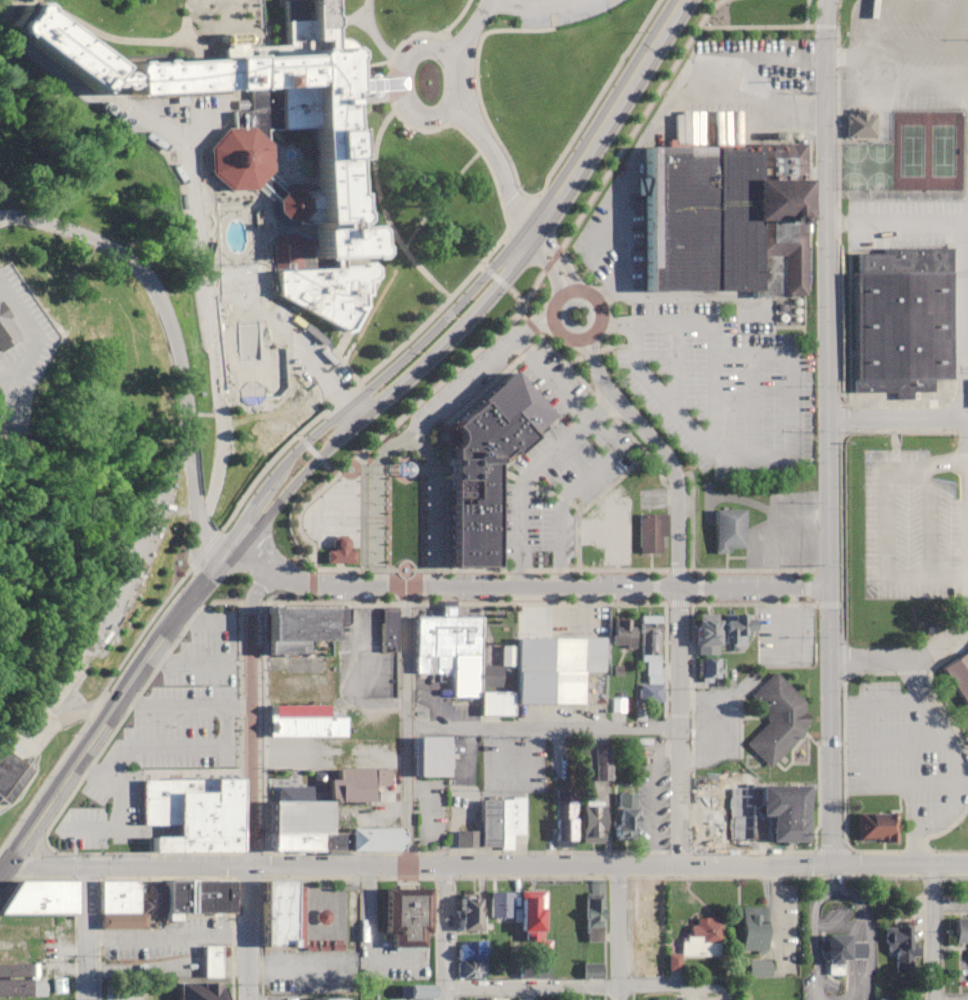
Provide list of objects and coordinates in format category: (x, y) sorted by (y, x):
road: (506, 2)
road: (526, 2)
road: (547, 3)
road: (829, 4)
parking lot: (550, 10)
road: (805, 11)
road: (762, 24)
road: (466, 44)
road: (456, 46)
road: (404, 85)
road: (476, 85)
road: (625, 90)
road: (759, 101)
road: (464, 107)
road: (404, 121)
road: (656, 123)
building: (863, 124)
park: (926, 150)
road: (620, 151)
road: (497, 161)
park: (864, 166)
building: (342, 176)
road: (437, 196)
road: (551, 206)
road: (382, 210)
road: (8, 215)
building: (705, 218)
road: (551, 260)
road: (131, 262)
road: (454, 290)
road: (562, 292)
building: (26, 298)
building: (904, 318)
road: (453, 332)
parking lot: (290, 347)
road: (308, 355)
road: (406, 357)
road: (900, 417)
road: (795, 422)
road: (346, 431)
road: (380, 434)
power tower: (958, 434)
road: (829, 435)
power tower: (850, 438)
road: (664, 451)
building: (489, 465)
fountain: (402, 468)
road: (193, 479)
road: (286, 490)
road: (252, 504)
building: (341, 527)
building: (729, 530)
building: (611, 531)
building: (652, 533)
road: (225, 551)
road: (253, 551)
road: (285, 577)
road: (116, 588)
road: (566, 590)
parking lot: (102, 615)
building: (300, 629)
building: (735, 630)
road: (954, 630)
building: (623, 633)
building: (709, 636)
road: (884, 656)
building: (651, 660)
building: (460, 662)
building: (205, 666)
building: (556, 669)
building: (710, 669)
building: (955, 680)
road: (122, 687)
road: (248, 713)
building: (779, 720)
road: (406, 727)
road: (542, 727)
road: (676, 727)
building: (300, 735)
building: (433, 757)
road: (959, 759)
building: (602, 772)
building: (12, 777)
building: (966, 778)
building: (788, 812)
building: (195, 815)
building: (300, 816)
building: (566, 818)
building: (594, 822)
building: (495, 825)
building: (627, 825)
building: (876, 827)
building: (729, 834)
road: (20, 838)
road: (40, 840)
road: (529, 864)
road: (28, 866)
road: (71, 866)
road: (2, 869)
building: (45, 898)
building: (160, 902)
building: (502, 907)
building: (533, 912)
building: (472, 913)
building: (281, 915)
building: (572, 915)
building: (594, 917)
building: (410, 918)
building: (650, 924)
building: (754, 929)
road: (934, 931)
building: (962, 931)
road: (90, 932)
road: (248, 932)
road: (443, 932)
road: (618, 932)
building: (702, 938)
building: (899, 947)
building: (843, 952)
building: (472, 959)
building: (212, 961)
building: (760, 968)
building: (563, 969)
building: (19, 981)
road: (588, 984)
building: (202, 991)
road: (529, 992)
building: (330, 999)
building: (484, 999)
building: (887, 999)

